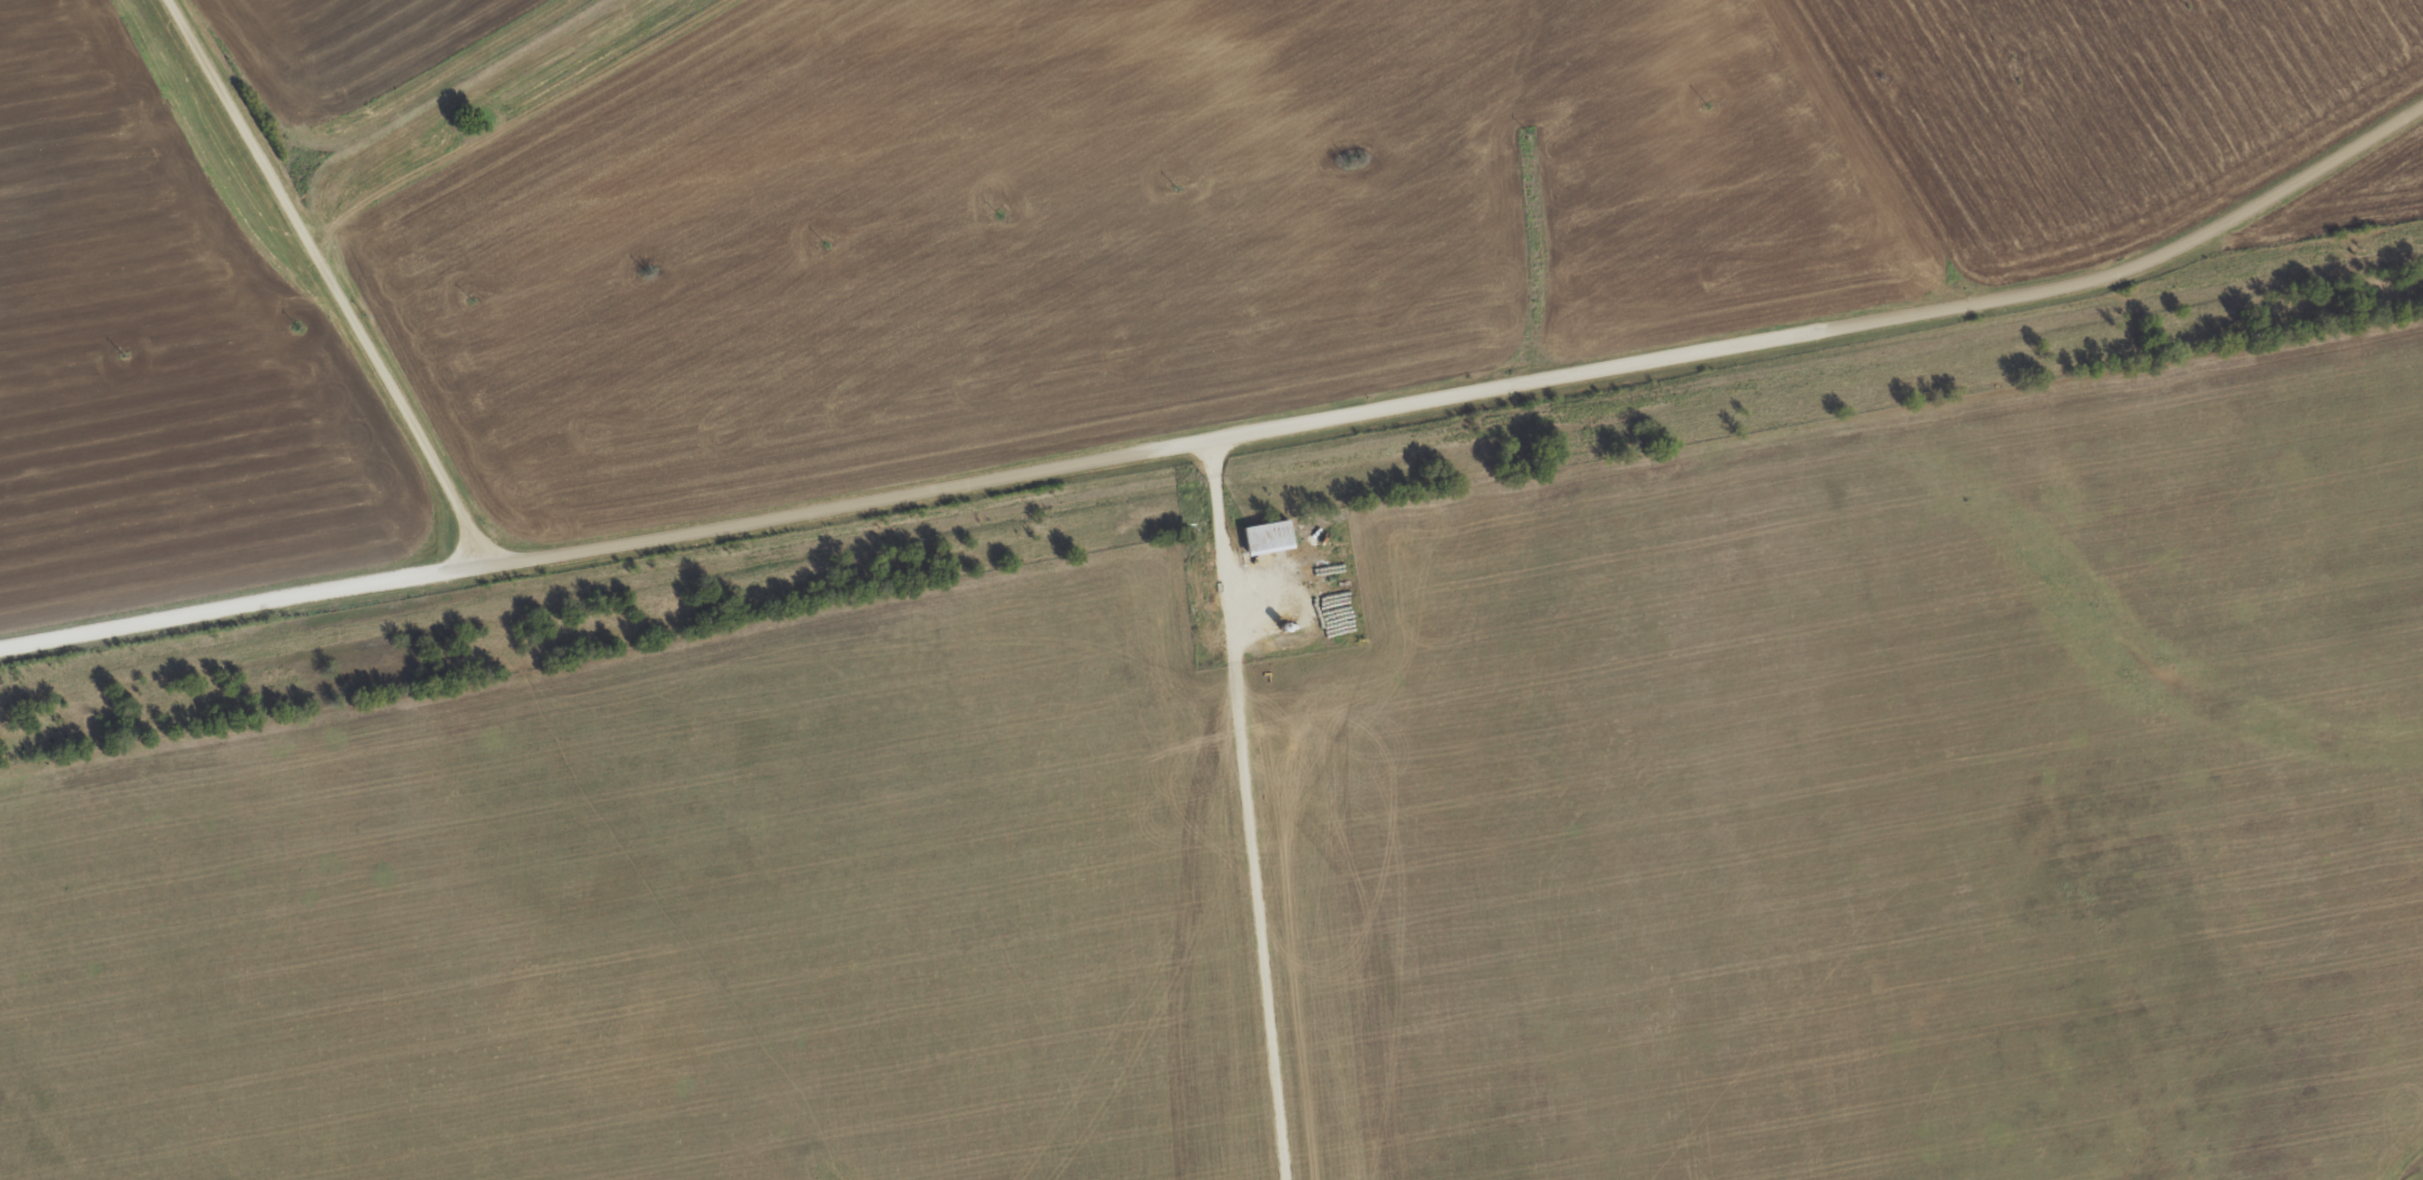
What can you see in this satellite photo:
road: (335, 283)
road: (1311, 417)
road: (80, 648)
road: (1266, 806)

